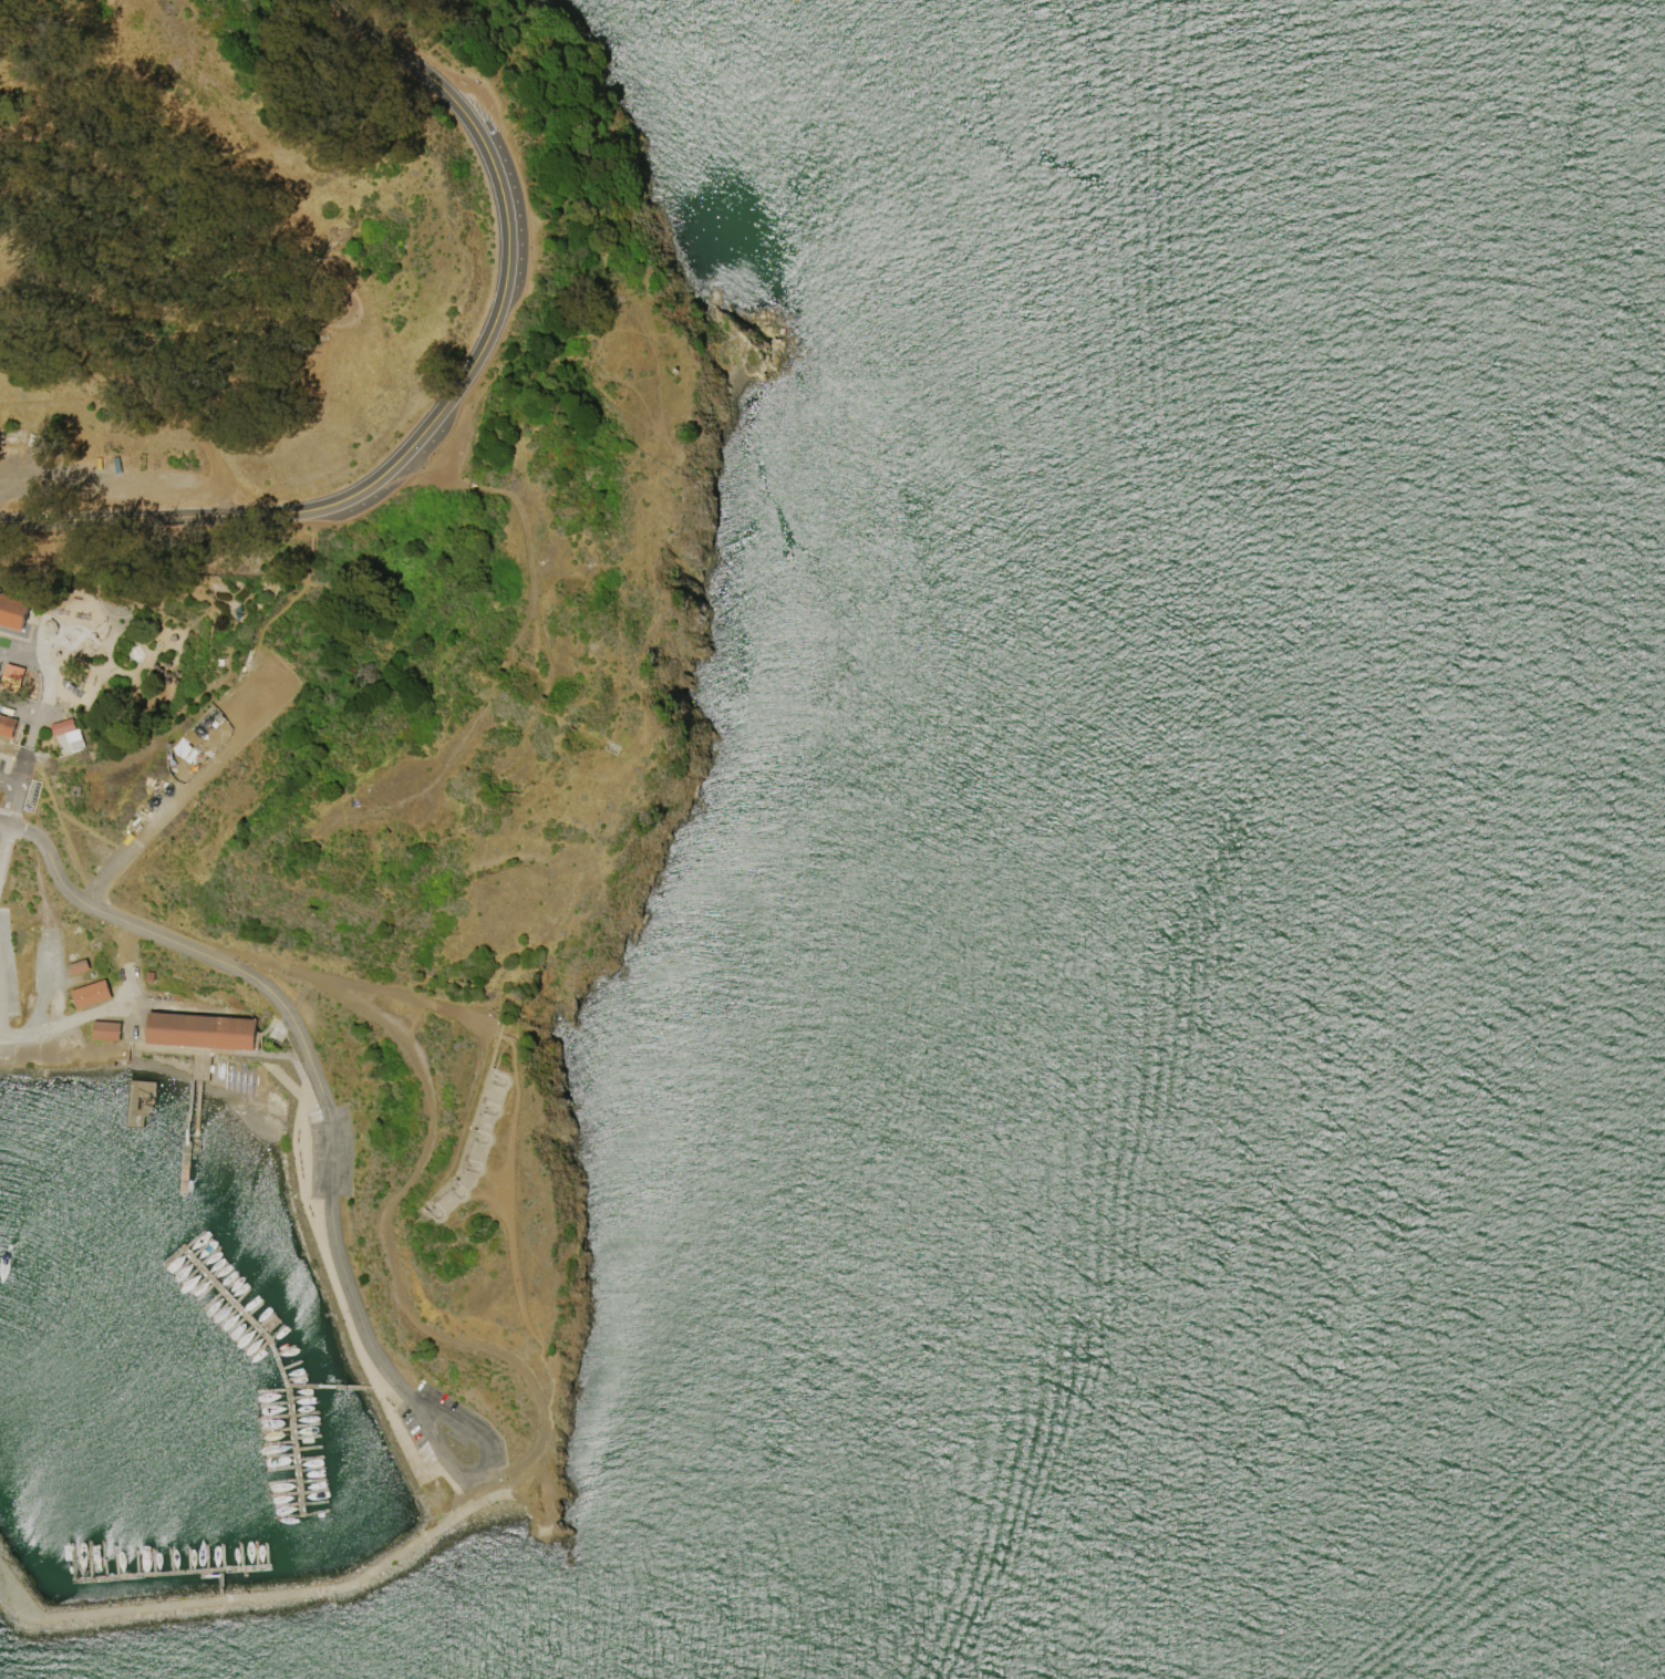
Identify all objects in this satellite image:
road: (404, 60)
road: (504, 201)
road: (210, 313)
road: (311, 510)
road: (314, 524)
road: (311, 550)
building: (13, 612)
road: (258, 647)
building: (11, 676)
building: (62, 727)
building: (7, 728)
parking lot: (2, 768)
road: (17, 796)
road: (157, 823)
road: (4, 825)
road: (4, 841)
parking lot: (46, 963)
building: (76, 966)
parking lot: (6, 968)
building: (147, 976)
road: (126, 982)
road: (46, 985)
building: (89, 994)
road: (392, 995)
road: (104, 1007)
road: (133, 1024)
road: (281, 1025)
road: (275, 1028)
parking lot: (276, 1029)
building: (104, 1030)
building: (198, 1030)
road: (265, 1030)
road: (493, 1030)
parking lot: (6, 1044)
road: (258, 1045)
road: (306, 1046)
road: (226, 1053)
pier: (198, 1074)
railway: (198, 1081)
road: (290, 1085)
pier: (138, 1101)
pier: (188, 1103)
road: (318, 1112)
road: (469, 1128)
road: (186, 1136)
railway: (195, 1142)
parking lot: (328, 1152)
road: (306, 1157)
building: (467, 1157)
pier: (184, 1167)
road: (404, 1185)
road: (509, 1210)
road: (550, 1212)
road: (316, 1221)
pier: (183, 1247)
pier: (241, 1312)
road: (344, 1318)
road: (548, 1372)
pier: (300, 1386)
road: (324, 1386)
pier: (351, 1387)
road: (548, 1413)
parking lot: (449, 1441)
pier: (292, 1450)
road: (442, 1466)
road: (524, 1471)
road: (477, 1474)
road: (547, 1509)
pier: (300, 1515)
pier: (164, 1573)
pier: (200, 1574)
road: (209, 1575)
pier: (219, 1587)
road: (254, 1596)

